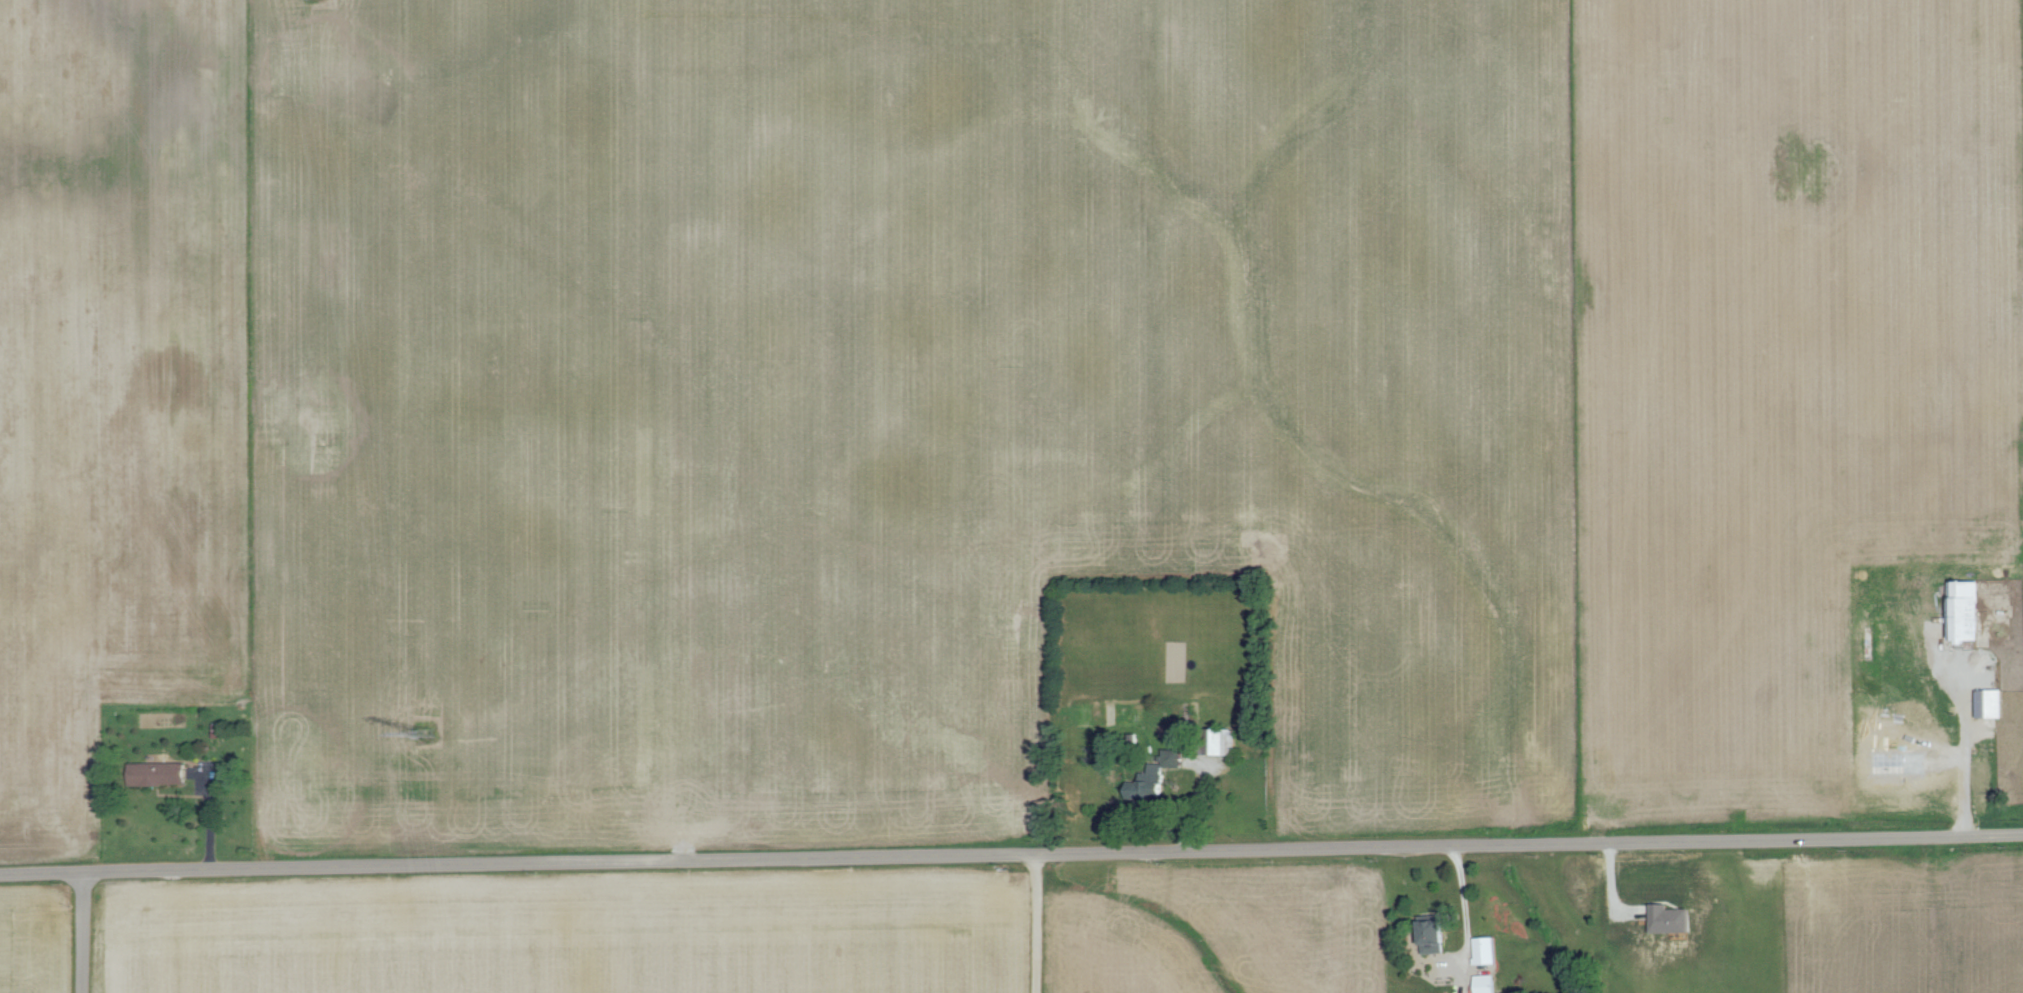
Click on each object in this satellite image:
power tower: (318, 1)
building: (1967, 611)
building: (1992, 703)
power tower: (428, 743)
building: (1175, 759)
road: (1955, 766)
building: (161, 772)
road: (1197, 795)
road: (1011, 851)
road: (1467, 915)
building: (1673, 917)
road: (1035, 922)
road: (81, 931)
building: (1437, 934)
building: (1486, 983)

